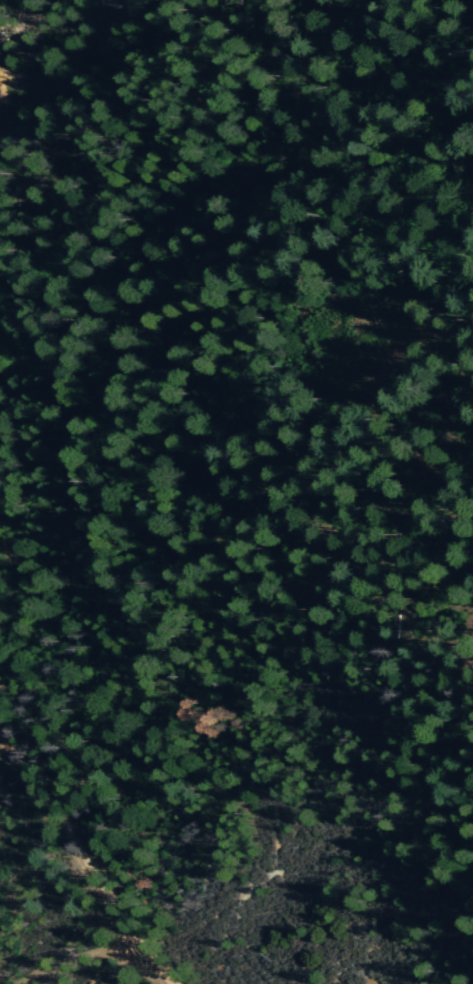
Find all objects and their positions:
park: (220, 784)
road: (85, 863)
park: (52, 908)

